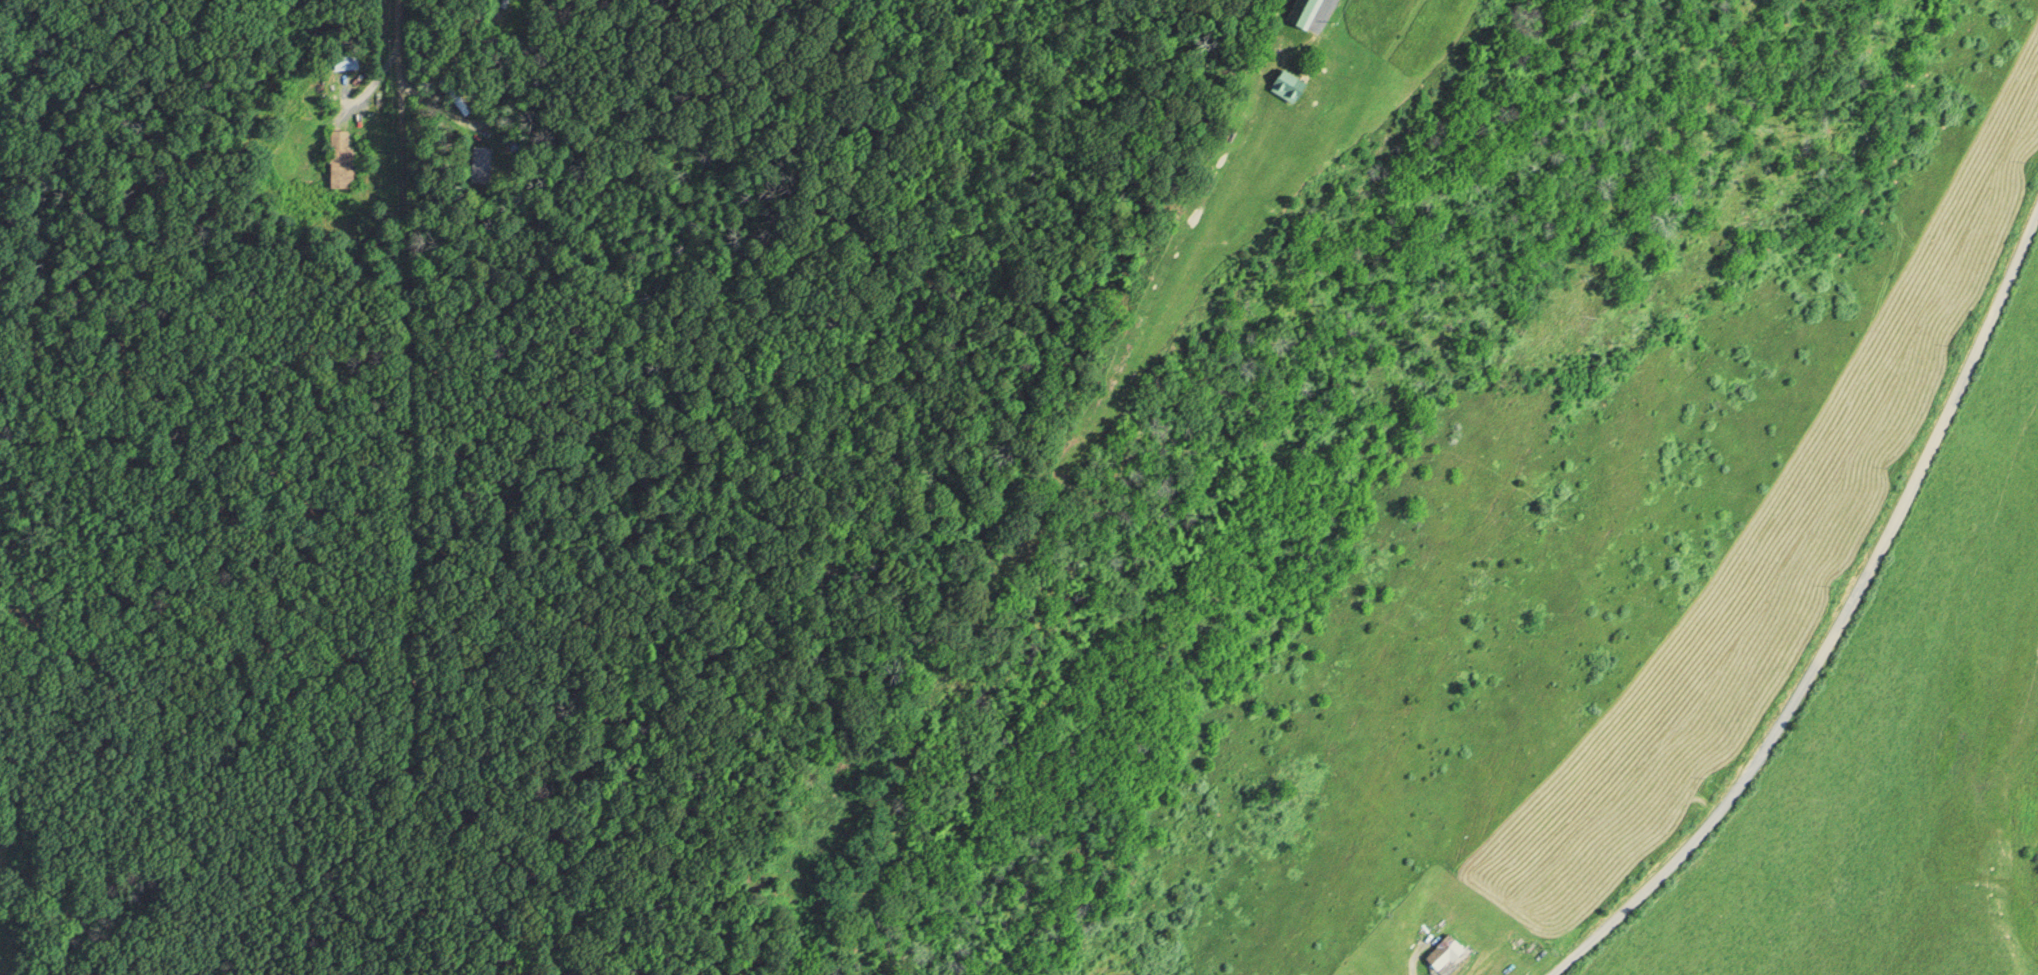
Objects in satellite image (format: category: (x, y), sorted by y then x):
building: (343, 62)
building: (1284, 86)
road: (1184, 134)
road: (447, 429)
road: (1840, 625)
building: (1440, 952)

